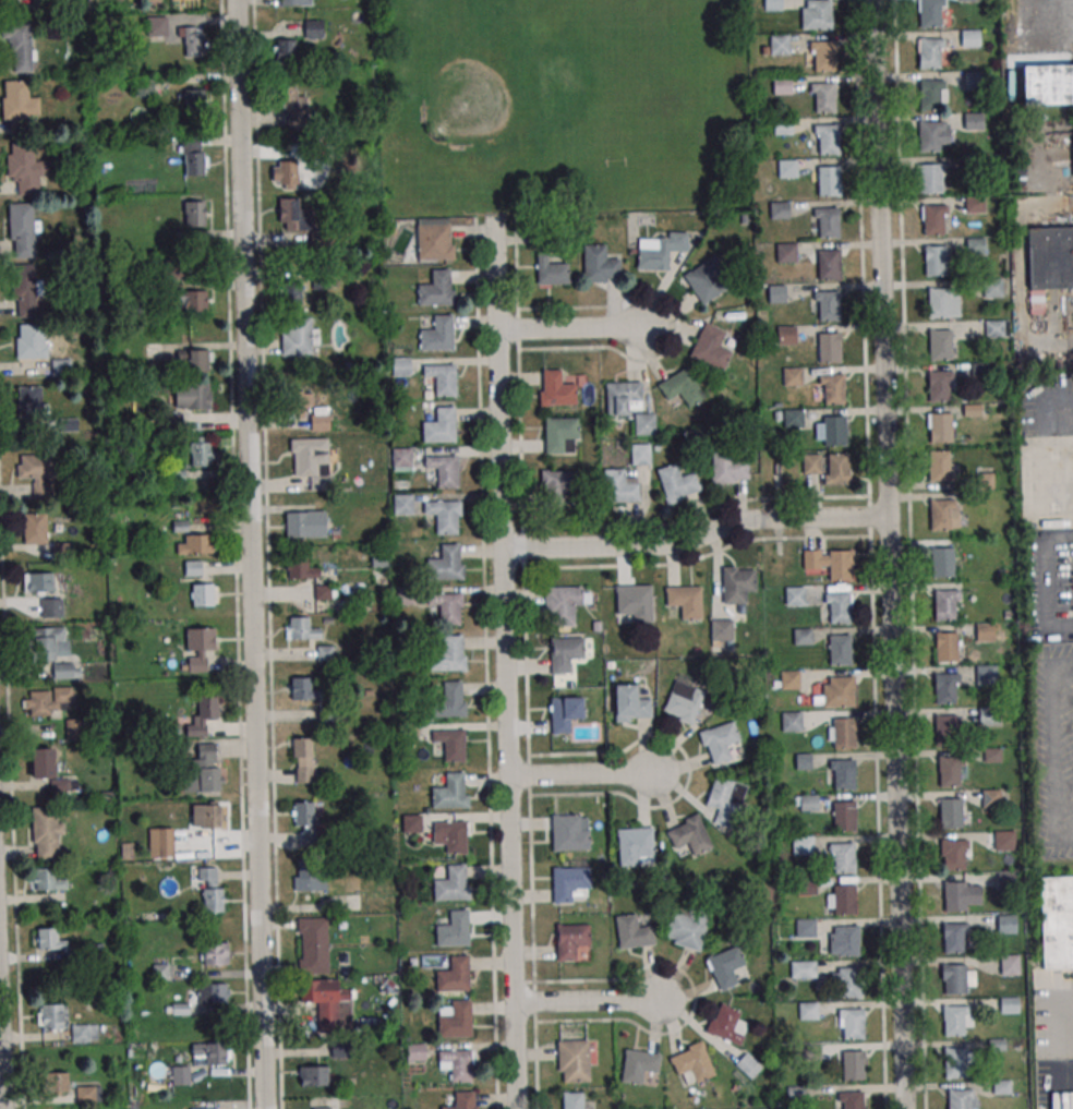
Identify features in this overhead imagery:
building: (969, 0)
building: (293, 2)
building: (772, 4)
building: (930, 13)
building: (820, 14)
road: (1049, 16)
building: (157, 26)
building: (969, 38)
building: (192, 41)
building: (19, 45)
building: (780, 45)
building: (286, 52)
building: (930, 52)
building: (823, 56)
building: (973, 81)
building: (1047, 84)
building: (143, 85)
building: (782, 85)
building: (930, 94)
building: (194, 98)
building: (824, 98)
building: (19, 103)
park: (562, 103)
building: (294, 108)
building: (973, 121)
building: (783, 125)
building: (930, 136)
building: (828, 141)
building: (194, 158)
building: (973, 164)
building: (25, 169)
building: (787, 169)
building: (285, 174)
building: (929, 178)
building: (829, 181)
building: (974, 204)
building: (780, 210)
building: (194, 213)
building: (292, 215)
building: (933, 219)
building: (829, 222)
building: (22, 230)
building: (435, 240)
building: (975, 245)
building: (660, 250)
building: (787, 253)
building: (1050, 257)
building: (936, 261)
building: (599, 264)
building: (829, 265)
building: (551, 272)
building: (707, 279)
building: (992, 287)
building: (436, 289)
building: (25, 290)
building: (290, 291)
building: (776, 294)
building: (189, 298)
building: (939, 302)
building: (829, 305)
road: (577, 327)
building: (993, 328)
road: (1054, 328)
building: (437, 335)
building: (297, 336)
building: (786, 336)
building: (32, 340)
building: (940, 345)
building: (711, 347)
building: (829, 348)
building: (195, 360)
building: (400, 366)
building: (792, 377)
building: (442, 378)
building: (939, 386)
building: (680, 387)
building: (556, 389)
building: (833, 390)
building: (192, 396)
building: (29, 399)
building: (629, 405)
building: (309, 410)
building: (793, 419)
building: (172, 421)
building: (441, 426)
building: (939, 427)
building: (834, 431)
building: (560, 435)
building: (201, 451)
building: (312, 460)
building: (811, 465)
building: (939, 466)
building: (730, 467)
building: (839, 469)
building: (444, 470)
building: (37, 474)
building: (982, 482)
building: (677, 483)
building: (556, 487)
building: (622, 489)
building: (402, 504)
building: (941, 514)
building: (444, 515)
building: (305, 523)
building: (35, 529)
road: (697, 538)
building: (194, 544)
road: (250, 554)
road: (870, 554)
road: (890, 554)
road: (908, 554)
building: (942, 563)
building: (445, 564)
building: (840, 565)
building: (193, 567)
building: (300, 568)
road: (1050, 582)
building: (736, 583)
building: (50, 593)
building: (202, 593)
building: (795, 595)
building: (685, 601)
building: (632, 603)
building: (563, 604)
building: (945, 605)
building: (446, 607)
building: (839, 610)
building: (301, 629)
building: (721, 629)
building: (984, 631)
building: (801, 636)
building: (50, 642)
building: (198, 647)
building: (947, 648)
building: (840, 650)
building: (566, 653)
building: (447, 655)
road: (504, 662)
road: (526, 662)
road: (486, 663)
building: (62, 671)
building: (986, 675)
building: (789, 679)
building: (945, 688)
building: (302, 689)
building: (835, 692)
building: (49, 701)
building: (447, 701)
building: (683, 701)
building: (630, 703)
building: (206, 710)
building: (564, 713)
building: (988, 714)
building: (793, 721)
building: (73, 728)
building: (944, 730)
building: (844, 733)
building: (719, 742)
building: (450, 744)
building: (991, 756)
building: (302, 759)
building: (46, 767)
building: (203, 771)
building: (950, 772)
building: (844, 775)
road: (581, 779)
building: (450, 793)
building: (990, 798)
building: (725, 801)
building: (808, 803)
building: (951, 813)
building: (206, 816)
building: (844, 816)
building: (304, 819)
building: (411, 822)
building: (569, 832)
building: (46, 834)
building: (688, 834)
building: (450, 835)
building: (1004, 841)
building: (162, 842)
building: (636, 845)
building: (803, 845)
building: (954, 855)
building: (844, 858)
building: (308, 875)
building: (48, 879)
building: (1005, 881)
building: (570, 884)
building: (451, 885)
building: (806, 887)
building: (210, 891)
building: (960, 896)
building: (845, 900)
building: (1057, 923)
building: (1005, 924)
building: (806, 928)
building: (685, 929)
building: (454, 930)
building: (632, 932)
building: (953, 938)
building: (48, 939)
building: (570, 940)
building: (847, 942)
building: (312, 944)
building: (214, 953)
building: (1010, 964)
building: (725, 967)
building: (807, 969)
building: (455, 976)
building: (954, 979)
building: (851, 983)
building: (213, 992)
building: (327, 1001)
road: (588, 1002)
building: (1009, 1006)
building: (808, 1011)
building: (49, 1016)
building: (456, 1021)
building: (954, 1021)
building: (726, 1024)
building: (853, 1025)
building: (84, 1033)
road: (2, 1046)
road: (1061, 1048)
building: (414, 1052)
building: (811, 1052)
building: (210, 1053)
building: (572, 1060)
building: (690, 1061)
building: (955, 1063)
building: (457, 1064)
building: (639, 1065)
building: (748, 1065)
building: (853, 1066)
building: (181, 1075)
building: (312, 1075)
building: (57, 1082)
building: (1001, 1087)
building: (85, 1094)
building: (959, 1099)
building: (852, 1100)
building: (463, 1101)
building: (208, 1108)

